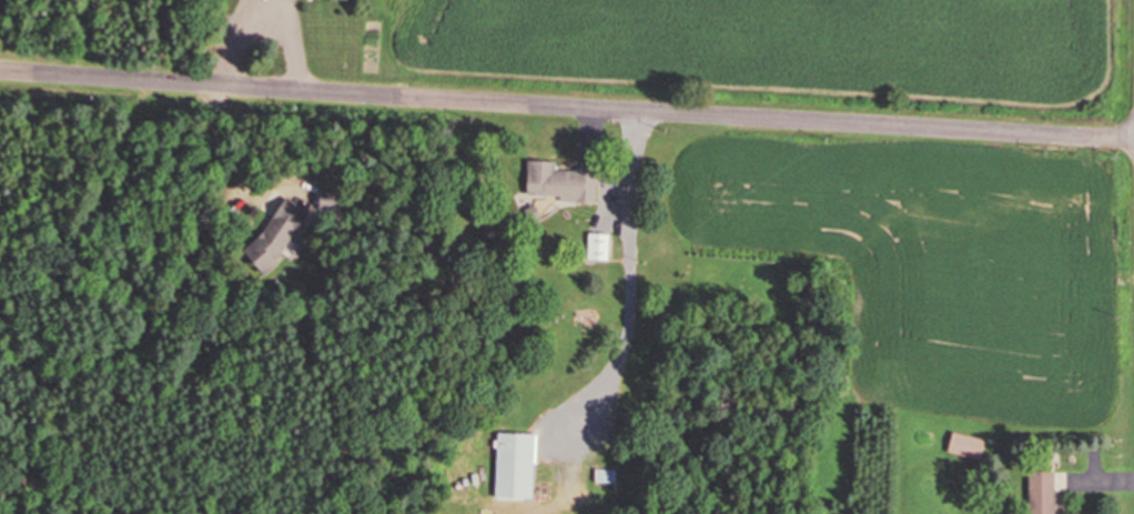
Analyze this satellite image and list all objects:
road: (566, 108)
building: (557, 182)
building: (275, 234)
building: (596, 246)
building: (964, 445)
building: (514, 465)
building: (604, 476)
building: (1040, 492)

